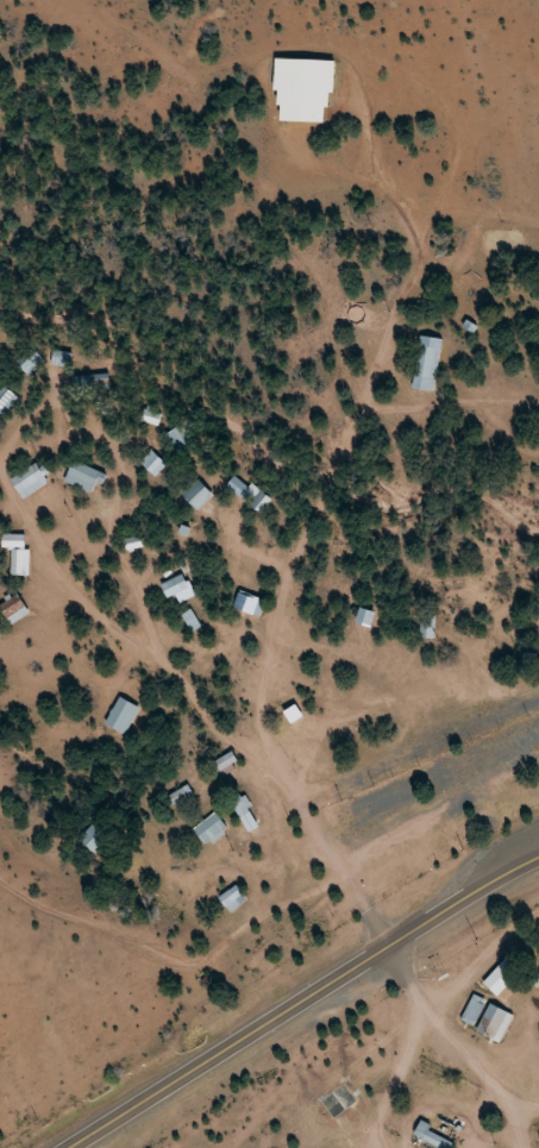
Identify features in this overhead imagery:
building: (302, 90)
building: (62, 358)
building: (29, 360)
building: (426, 363)
building: (90, 383)
building: (151, 416)
building: (180, 437)
building: (152, 463)
building: (83, 477)
building: (29, 481)
building: (246, 491)
building: (196, 494)
building: (17, 552)
road: (306, 564)
building: (174, 585)
road: (131, 604)
building: (364, 616)
building: (427, 626)
building: (121, 715)
building: (225, 761)
building: (183, 801)
building: (242, 807)
building: (211, 829)
building: (93, 838)
building: (232, 898)
building: (502, 974)
road: (296, 998)
building: (472, 1010)
building: (494, 1022)
road: (362, 1046)
road: (521, 1091)

